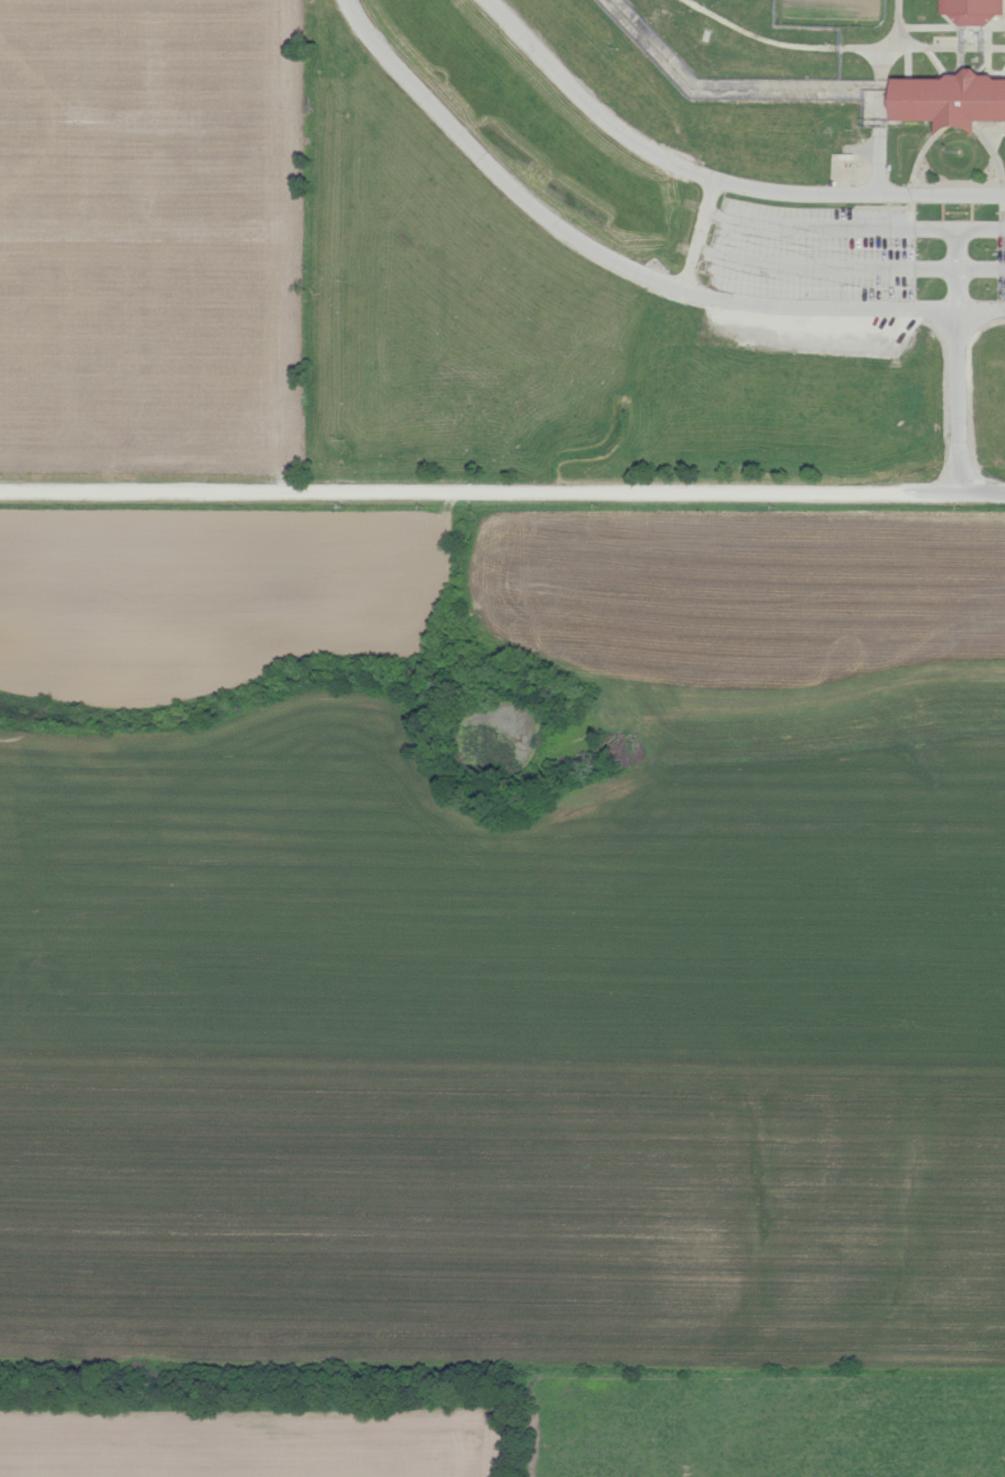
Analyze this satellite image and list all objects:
building: (974, 11)
building: (954, 99)
road: (625, 263)
road: (958, 402)
road: (480, 490)
road: (983, 492)

